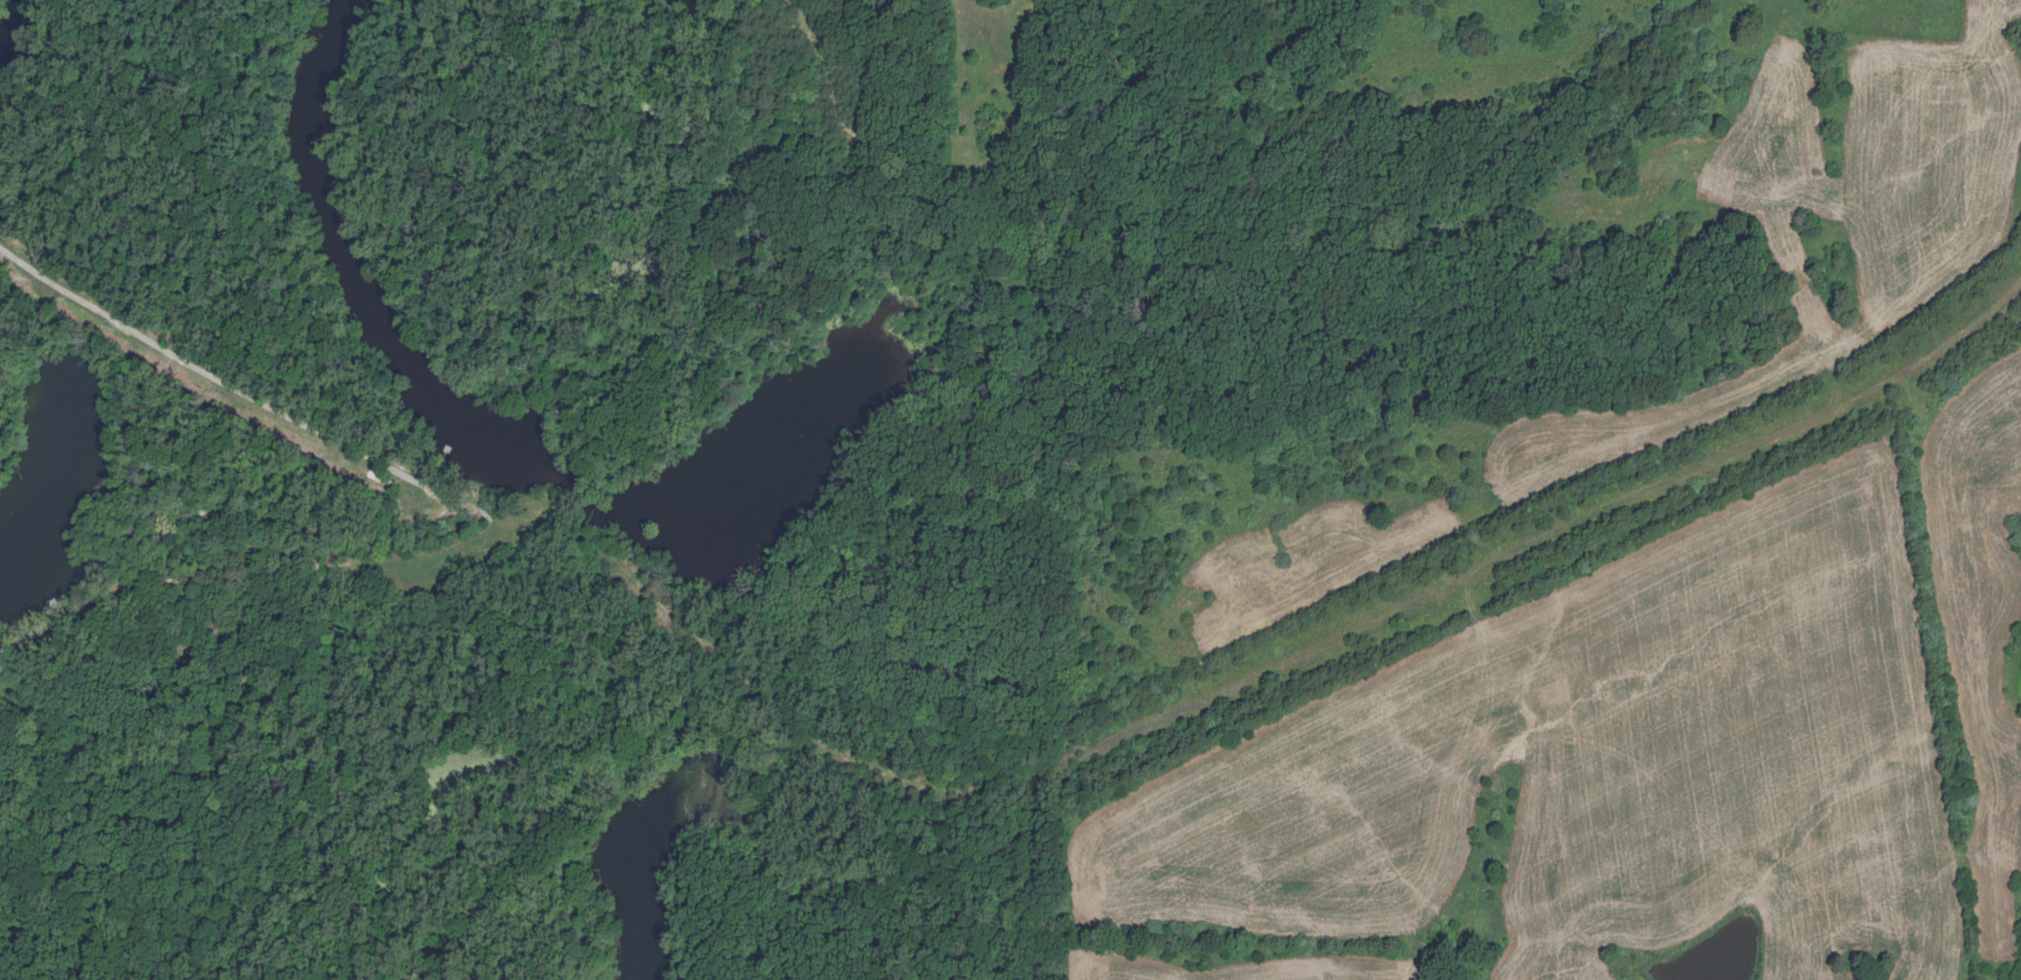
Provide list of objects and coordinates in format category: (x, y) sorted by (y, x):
road: (199, 366)

